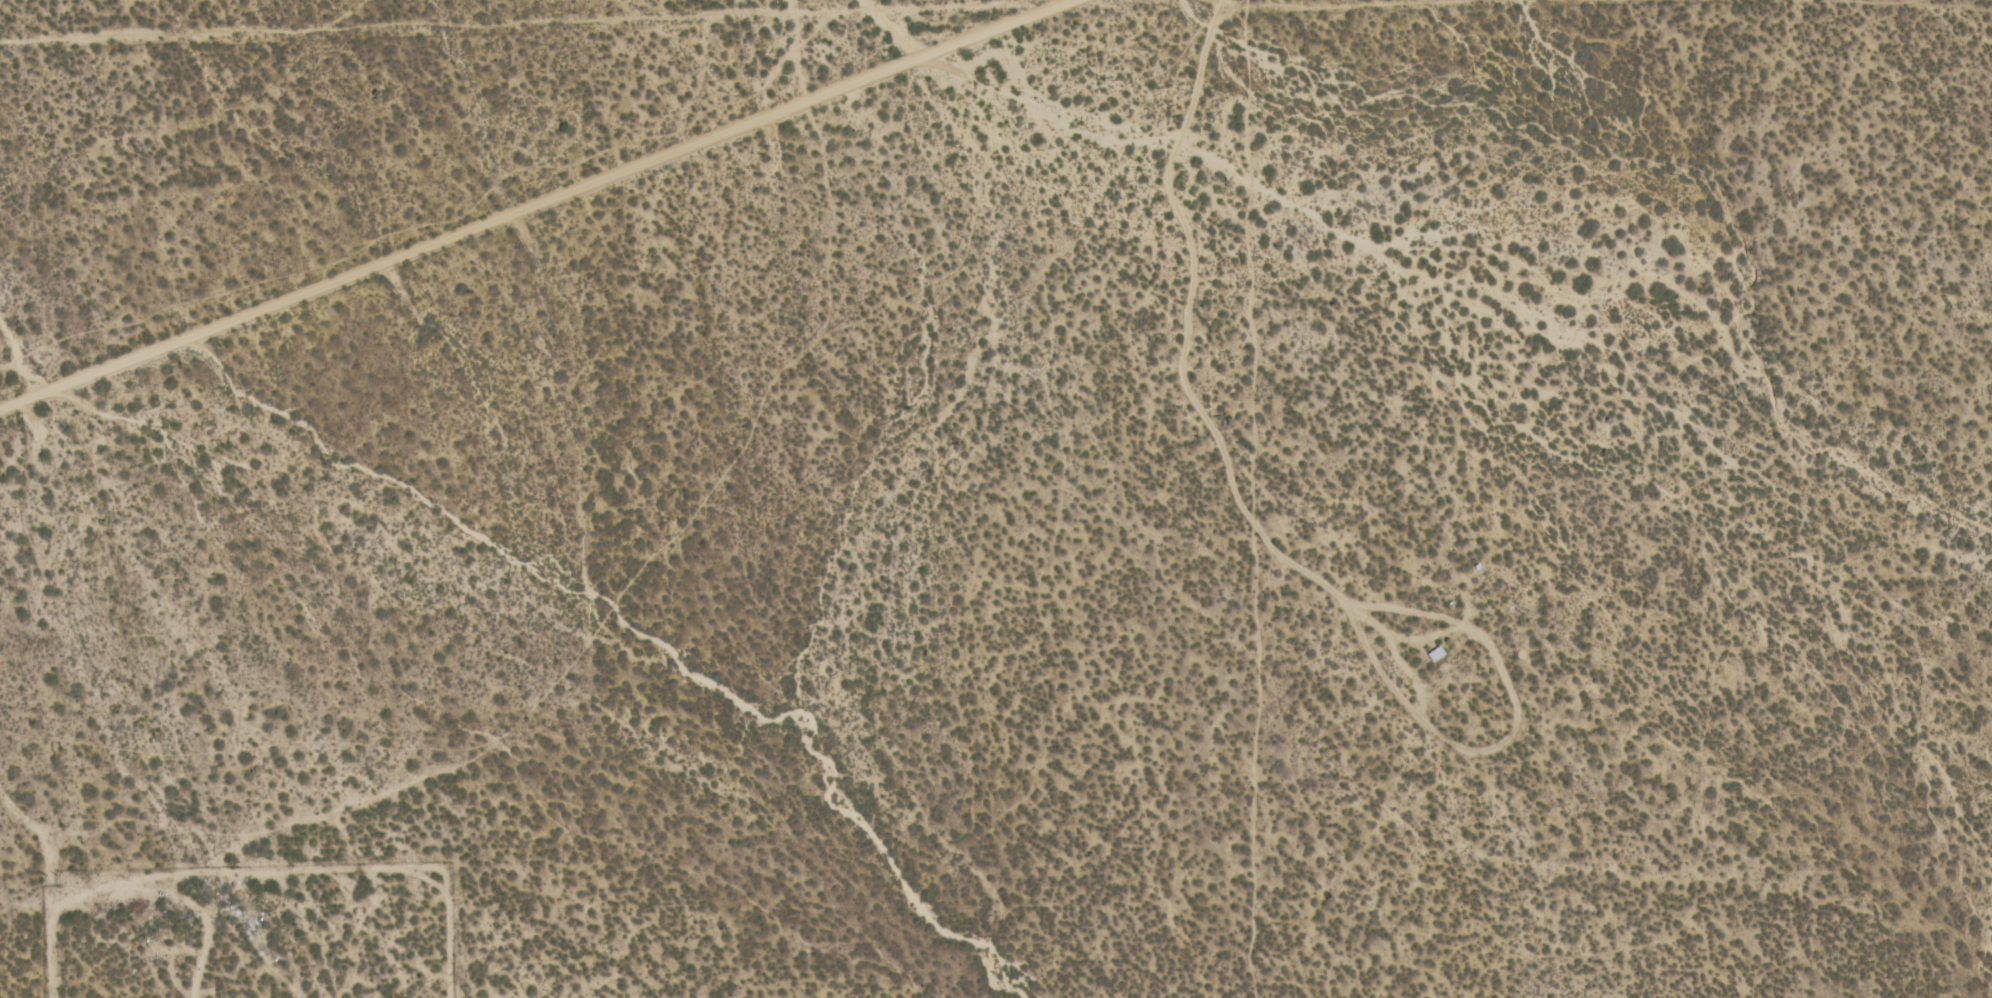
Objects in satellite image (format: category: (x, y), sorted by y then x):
road: (1046, 8)
road: (512, 35)
road: (512, 210)
road: (162, 901)

